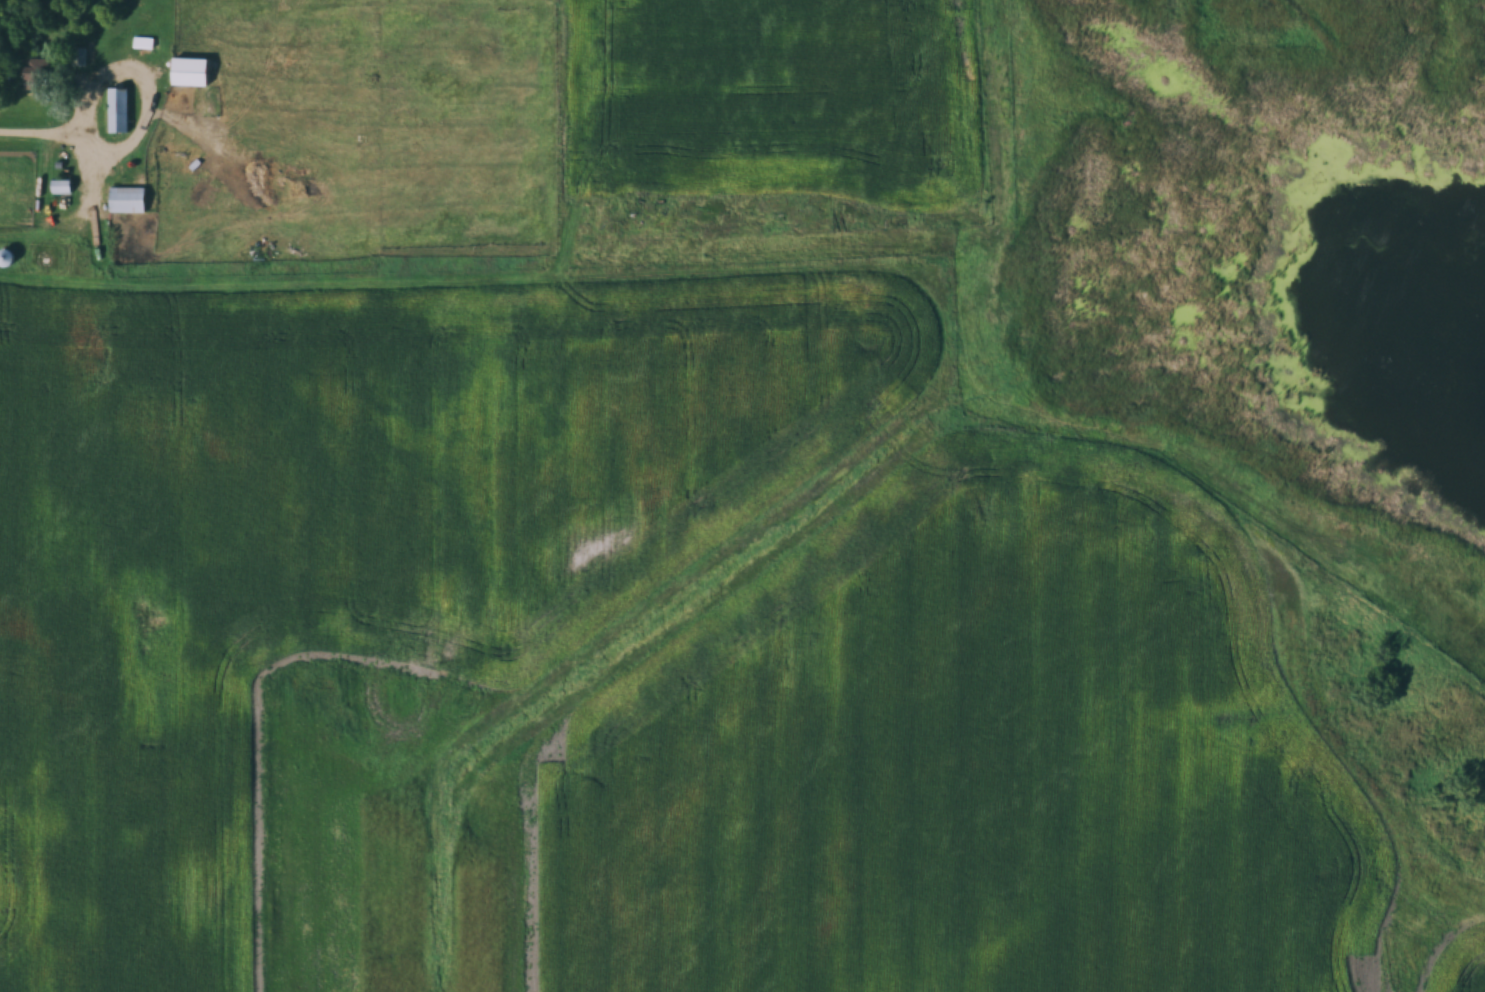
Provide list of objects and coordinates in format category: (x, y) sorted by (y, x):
building: (79, 56)
building: (36, 73)
building: (191, 74)
building: (119, 108)
road: (40, 130)
building: (62, 186)
building: (127, 199)
building: (6, 257)

